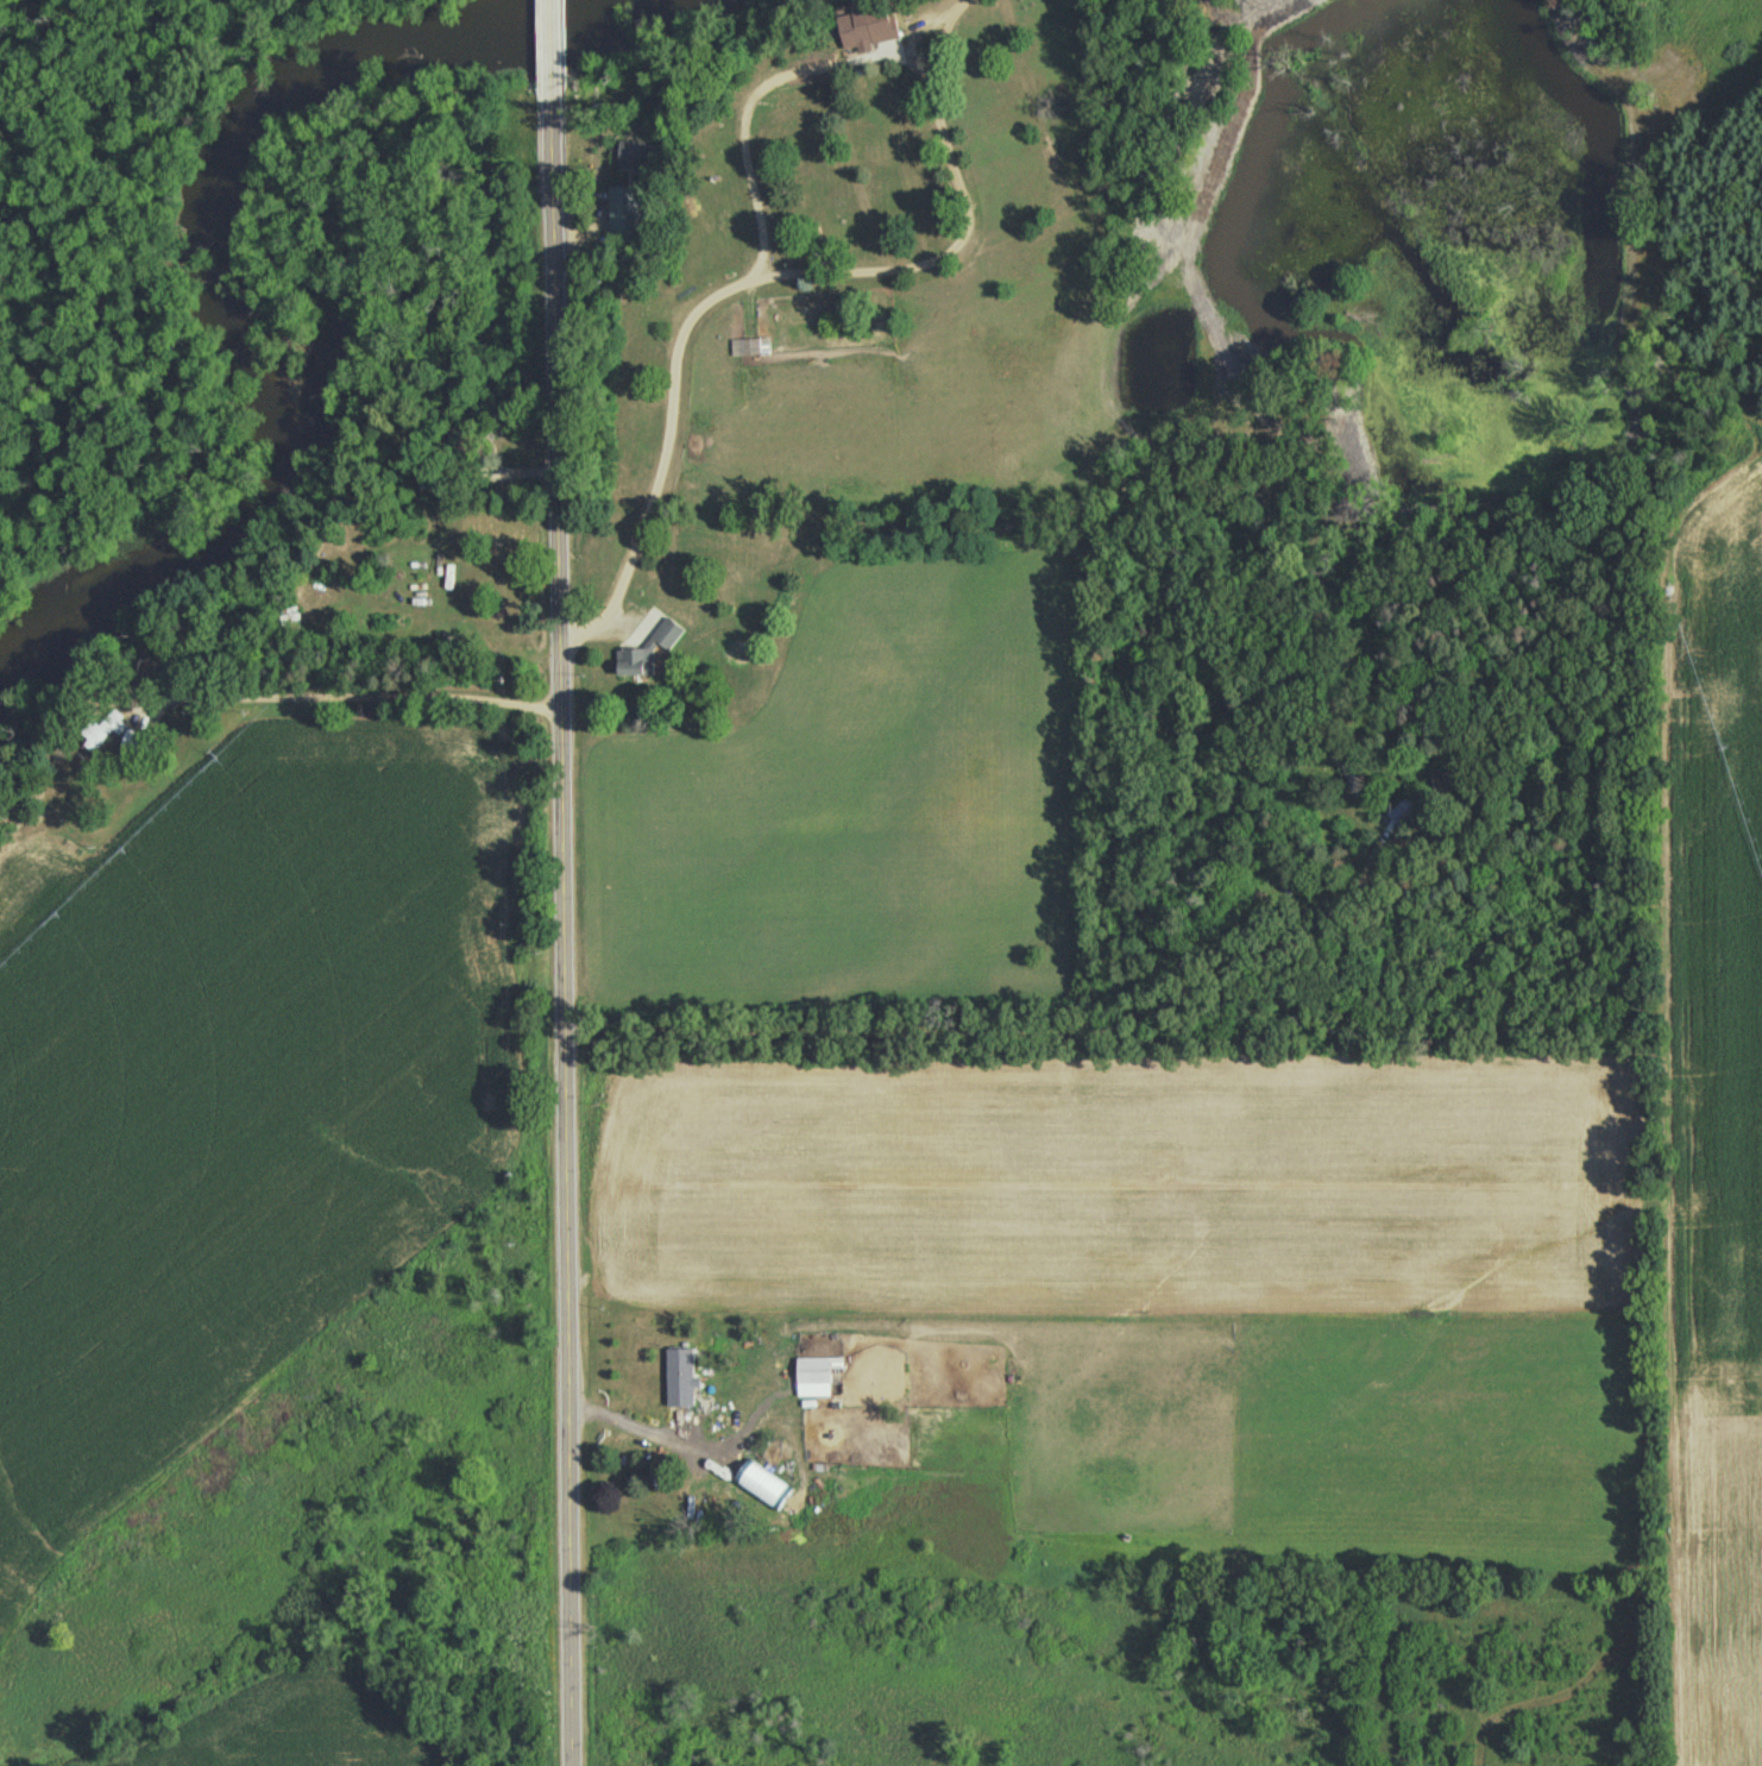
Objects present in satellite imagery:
road: (917, 13)
building: (868, 20)
road: (546, 43)
road: (763, 117)
road: (994, 139)
building: (633, 158)
road: (893, 172)
building: (623, 213)
road: (1109, 232)
river: (225, 288)
road: (805, 310)
building: (750, 350)
road: (635, 448)
building: (289, 617)
building: (647, 654)
building: (102, 731)
building: (133, 746)
building: (1405, 813)
road: (559, 925)
building: (813, 1375)
building: (680, 1381)

